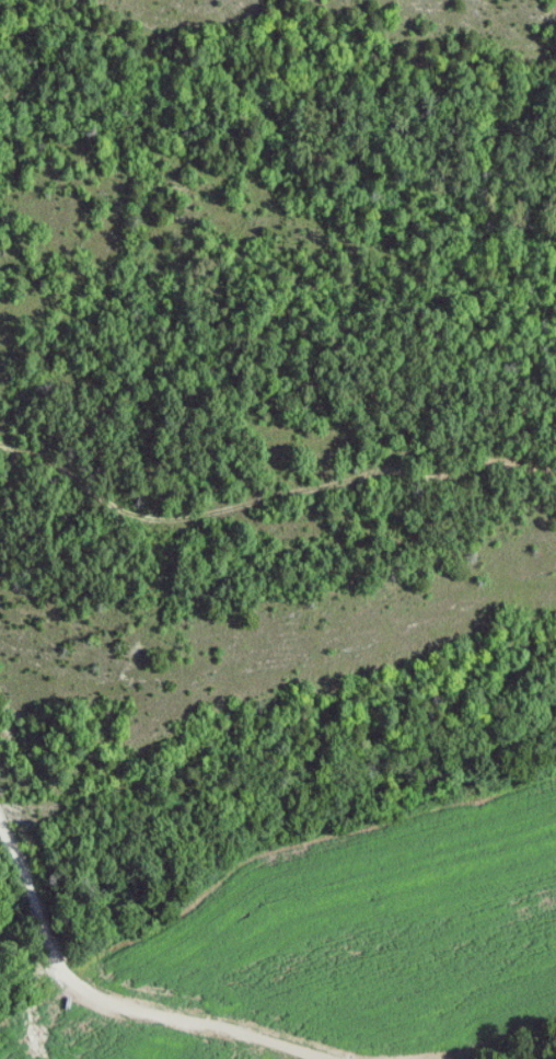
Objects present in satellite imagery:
road: (270, 494)

